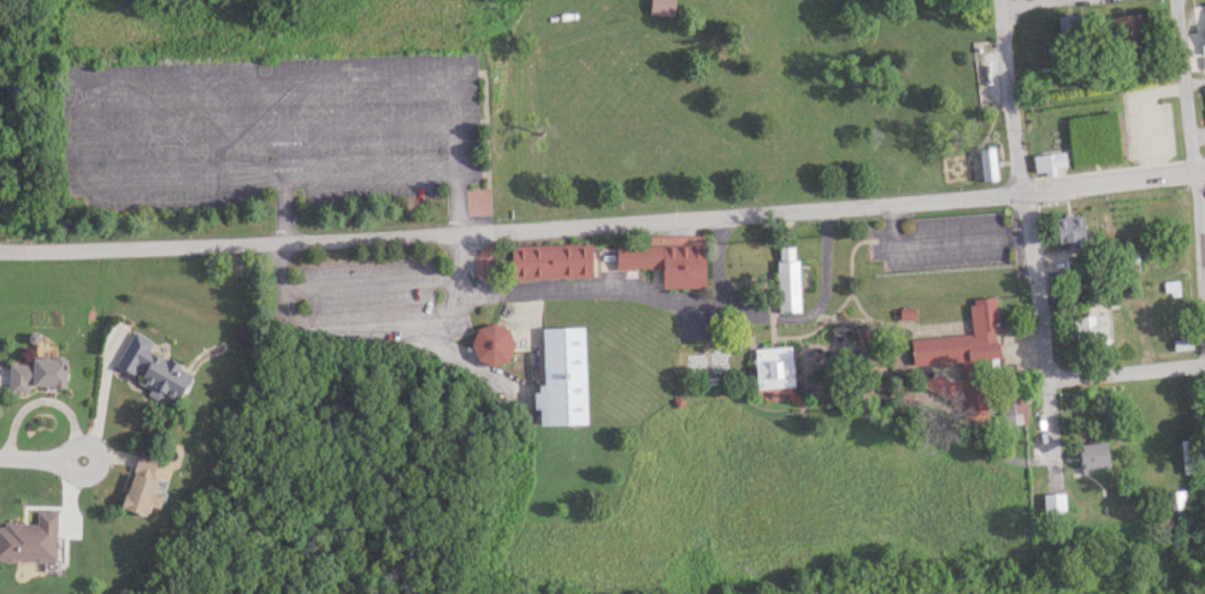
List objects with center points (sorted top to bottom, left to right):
road: (1018, 2)
building: (660, 7)
building: (1127, 29)
building: (984, 51)
road: (1009, 96)
road: (1193, 160)
building: (1047, 164)
building: (985, 165)
road: (368, 173)
road: (1115, 182)
road: (512, 230)
building: (1068, 232)
road: (720, 261)
building: (549, 262)
building: (662, 263)
building: (786, 285)
road: (1035, 286)
road: (566, 287)
road: (816, 307)
road: (349, 319)
building: (1083, 329)
building: (489, 345)
building: (965, 358)
building: (770, 367)
building: (147, 368)
road: (1124, 372)
building: (34, 374)
building: (559, 376)
building: (1010, 408)
road: (1049, 422)
building: (1088, 456)
building: (1187, 457)
road: (30, 458)
road: (98, 458)
building: (137, 487)
building: (1180, 499)
building: (1047, 504)
building: (26, 540)

